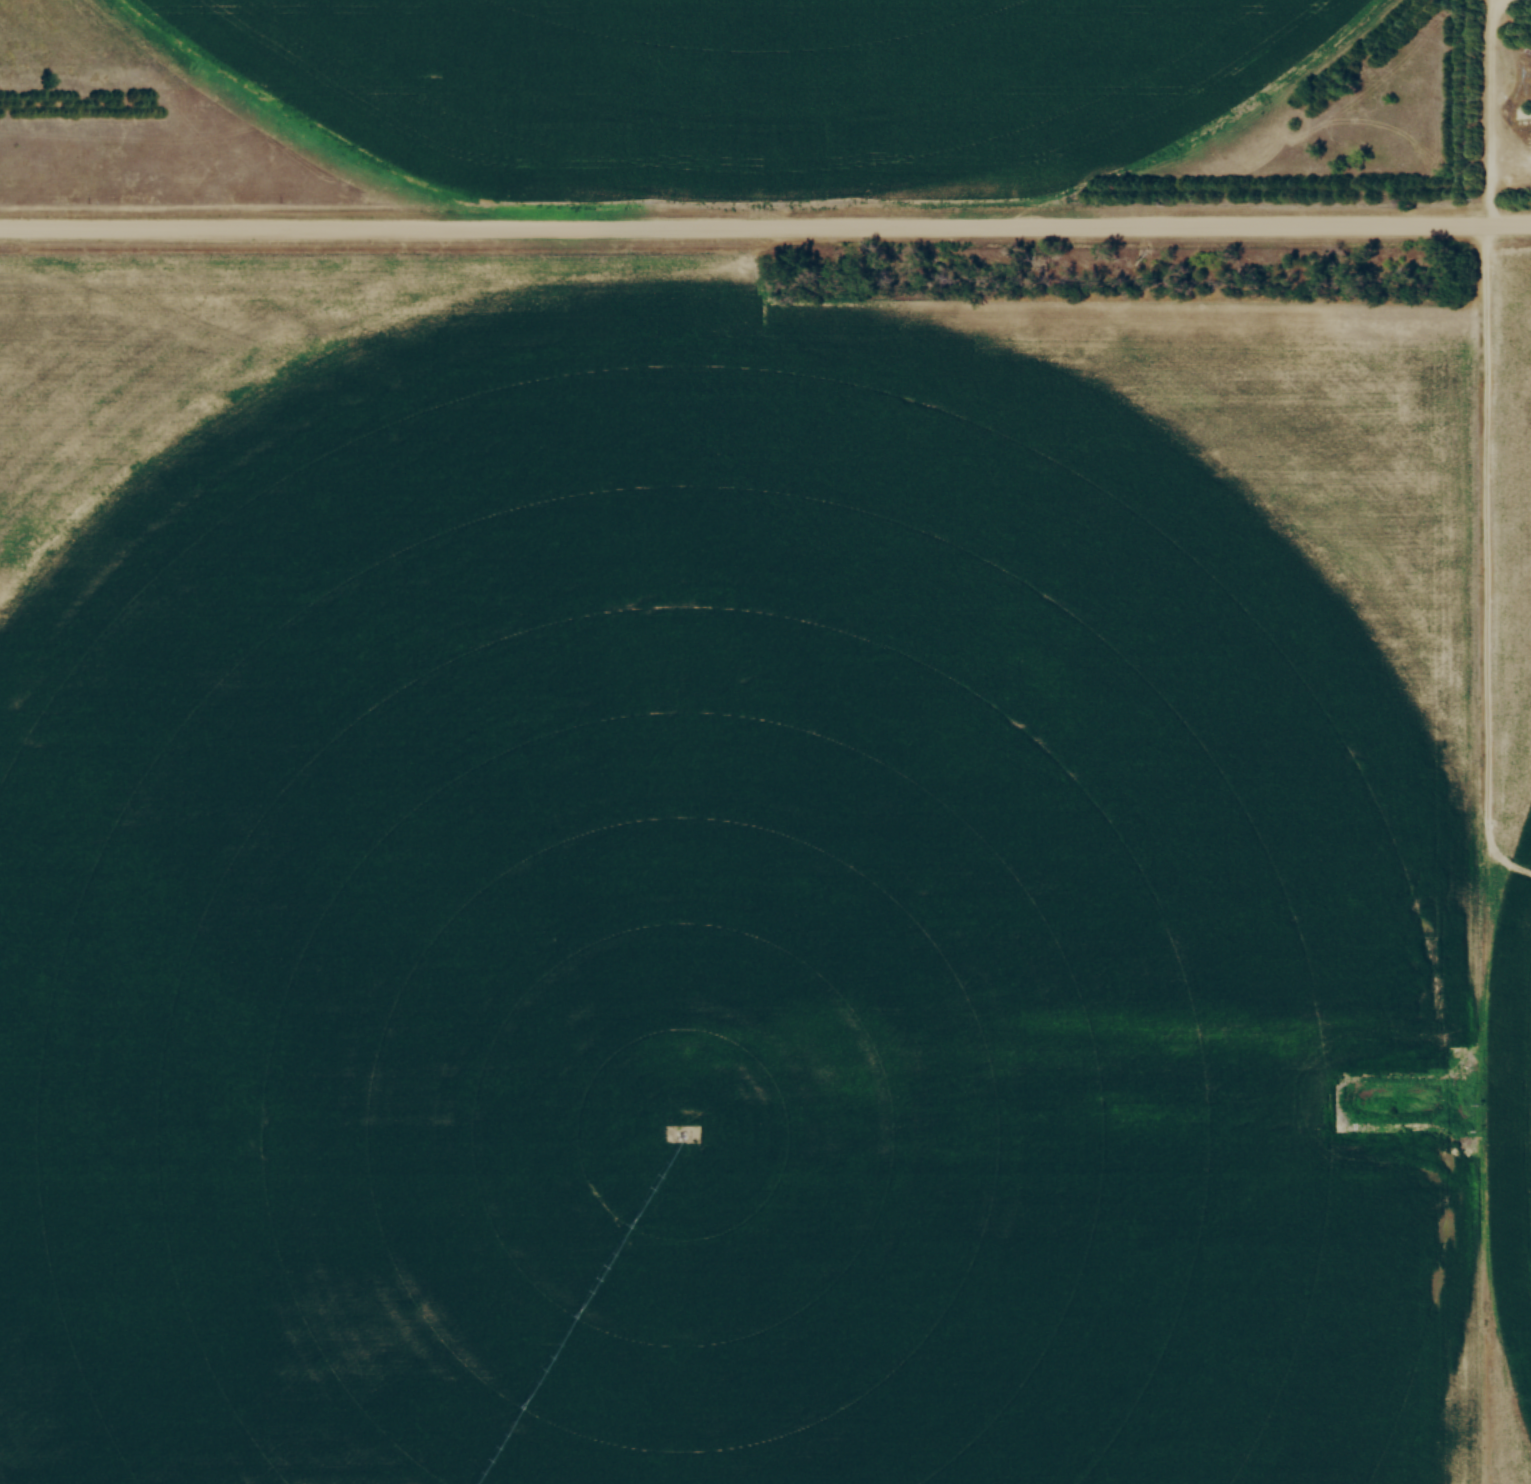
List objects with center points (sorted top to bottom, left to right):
road: (765, 231)

